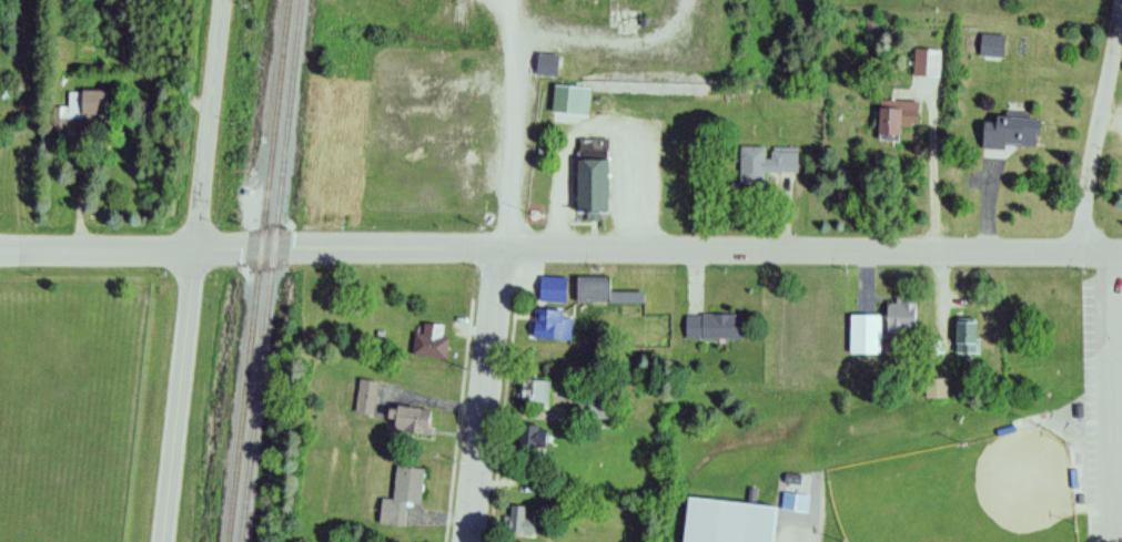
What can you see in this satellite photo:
building: (991, 45)
building: (926, 63)
building: (547, 65)
building: (570, 100)
building: (83, 103)
building: (893, 120)
road: (1112, 120)
road: (210, 124)
road: (1100, 126)
building: (1008, 133)
building: (766, 163)
building: (590, 176)
road: (98, 248)
road: (658, 250)
railway: (260, 270)
railway: (272, 270)
building: (553, 289)
building: (602, 292)
building: (899, 318)
building: (552, 325)
building: (714, 328)
building: (862, 335)
building: (966, 337)
building: (427, 341)
building: (936, 389)
building: (534, 392)
road: (176, 395)
road: (485, 395)
road: (1114, 397)
building: (366, 398)
building: (592, 409)
parking lot: (1104, 410)
building: (408, 421)
building: (528, 438)
park: (964, 492)
building: (401, 495)
building: (728, 518)
building: (520, 522)

